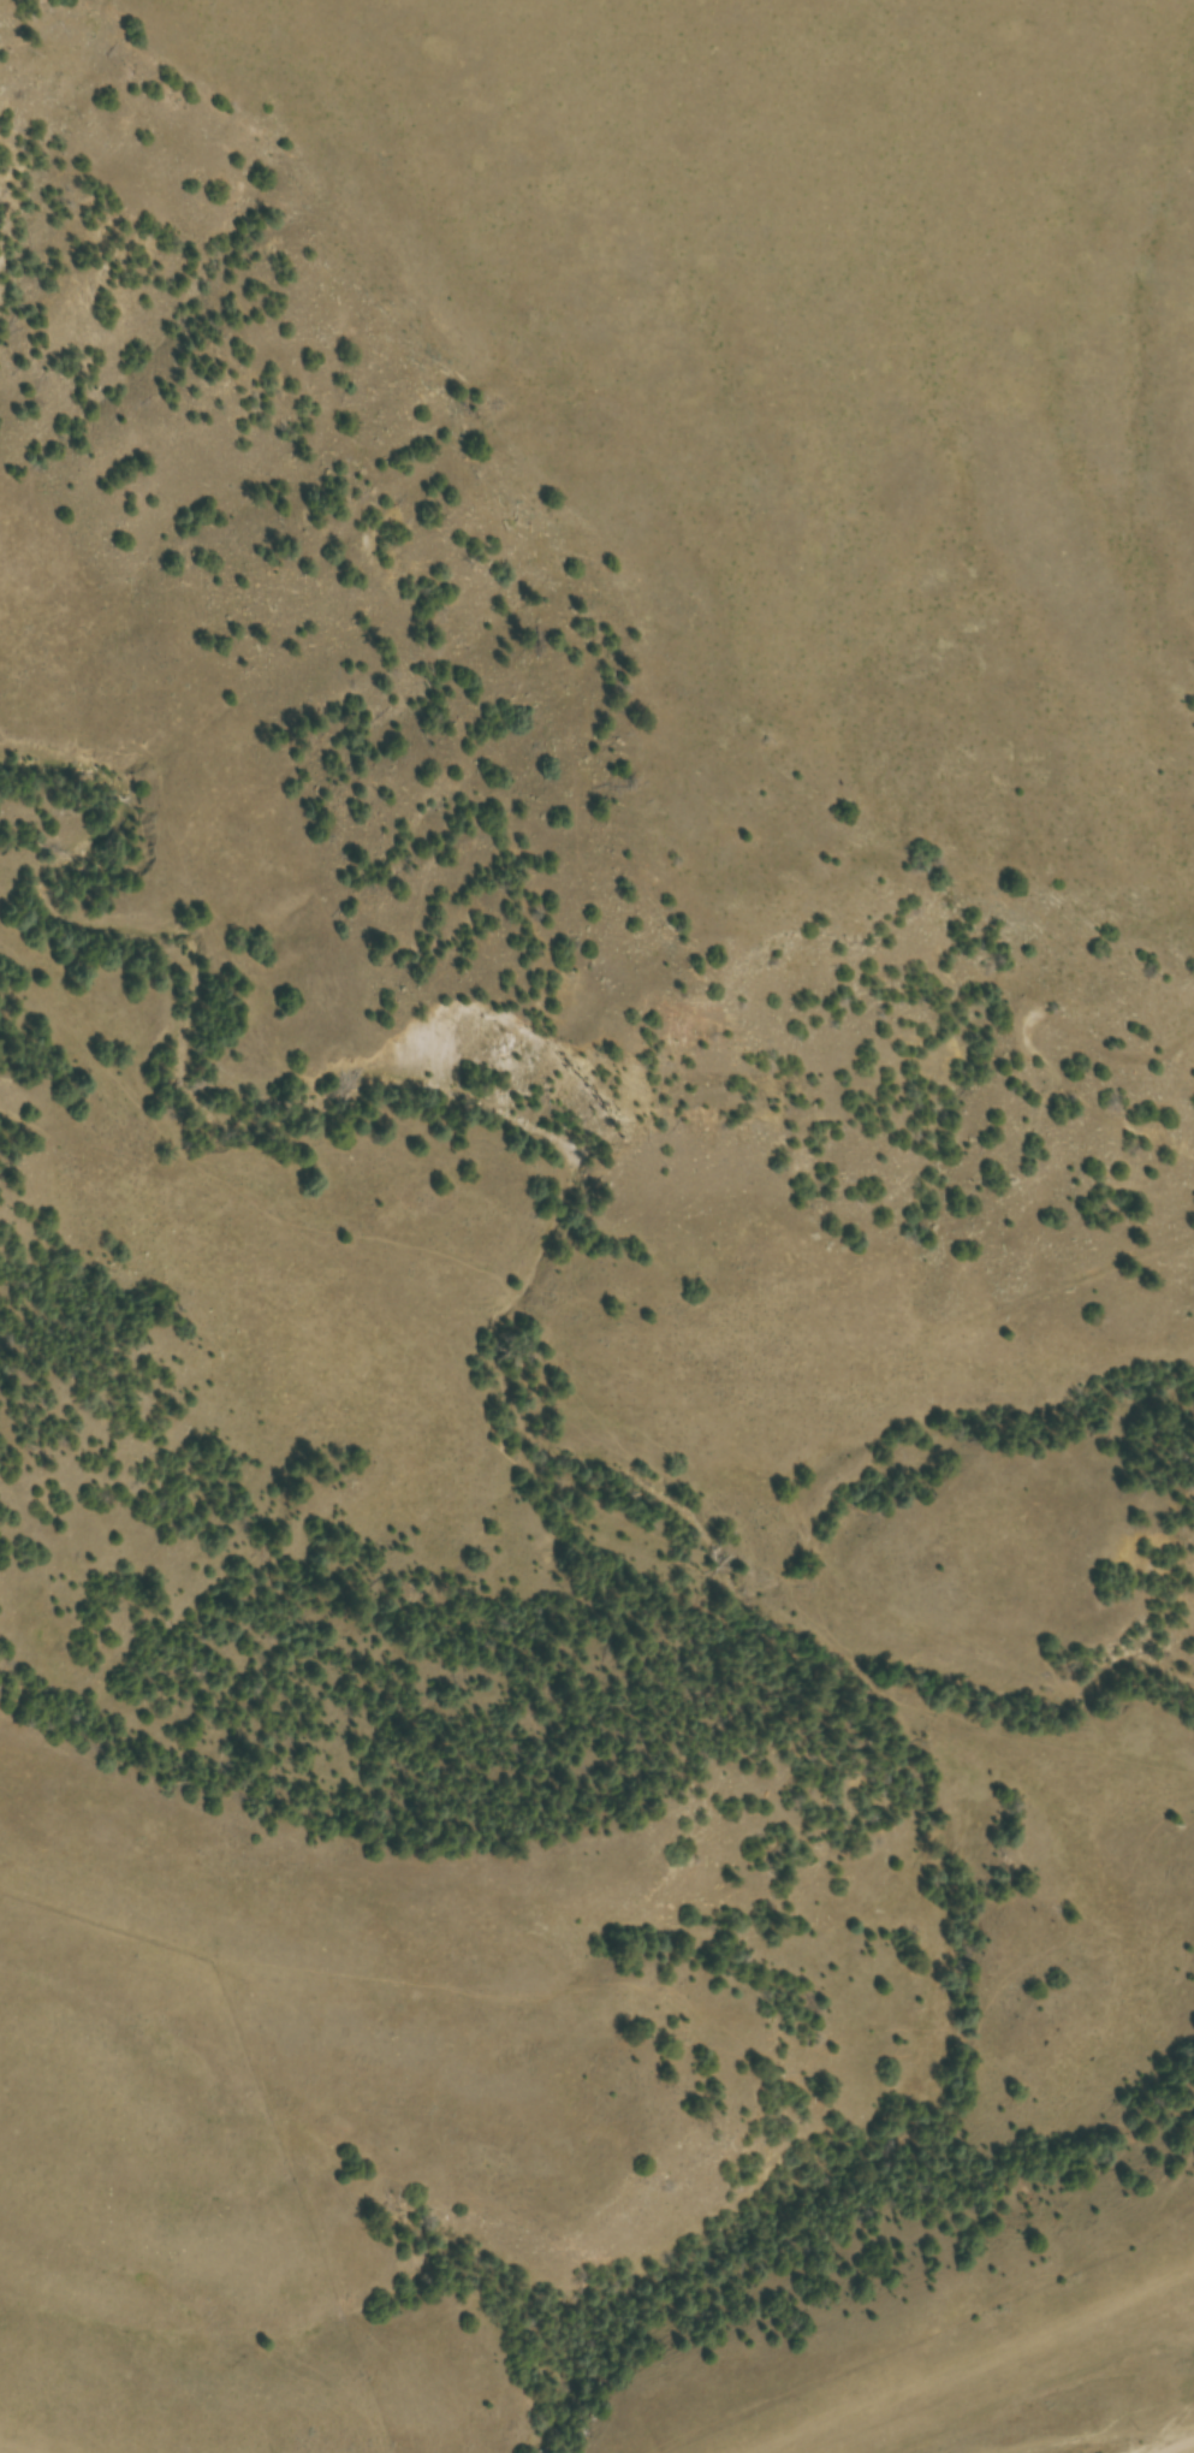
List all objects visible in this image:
road: (1178, 2451)

